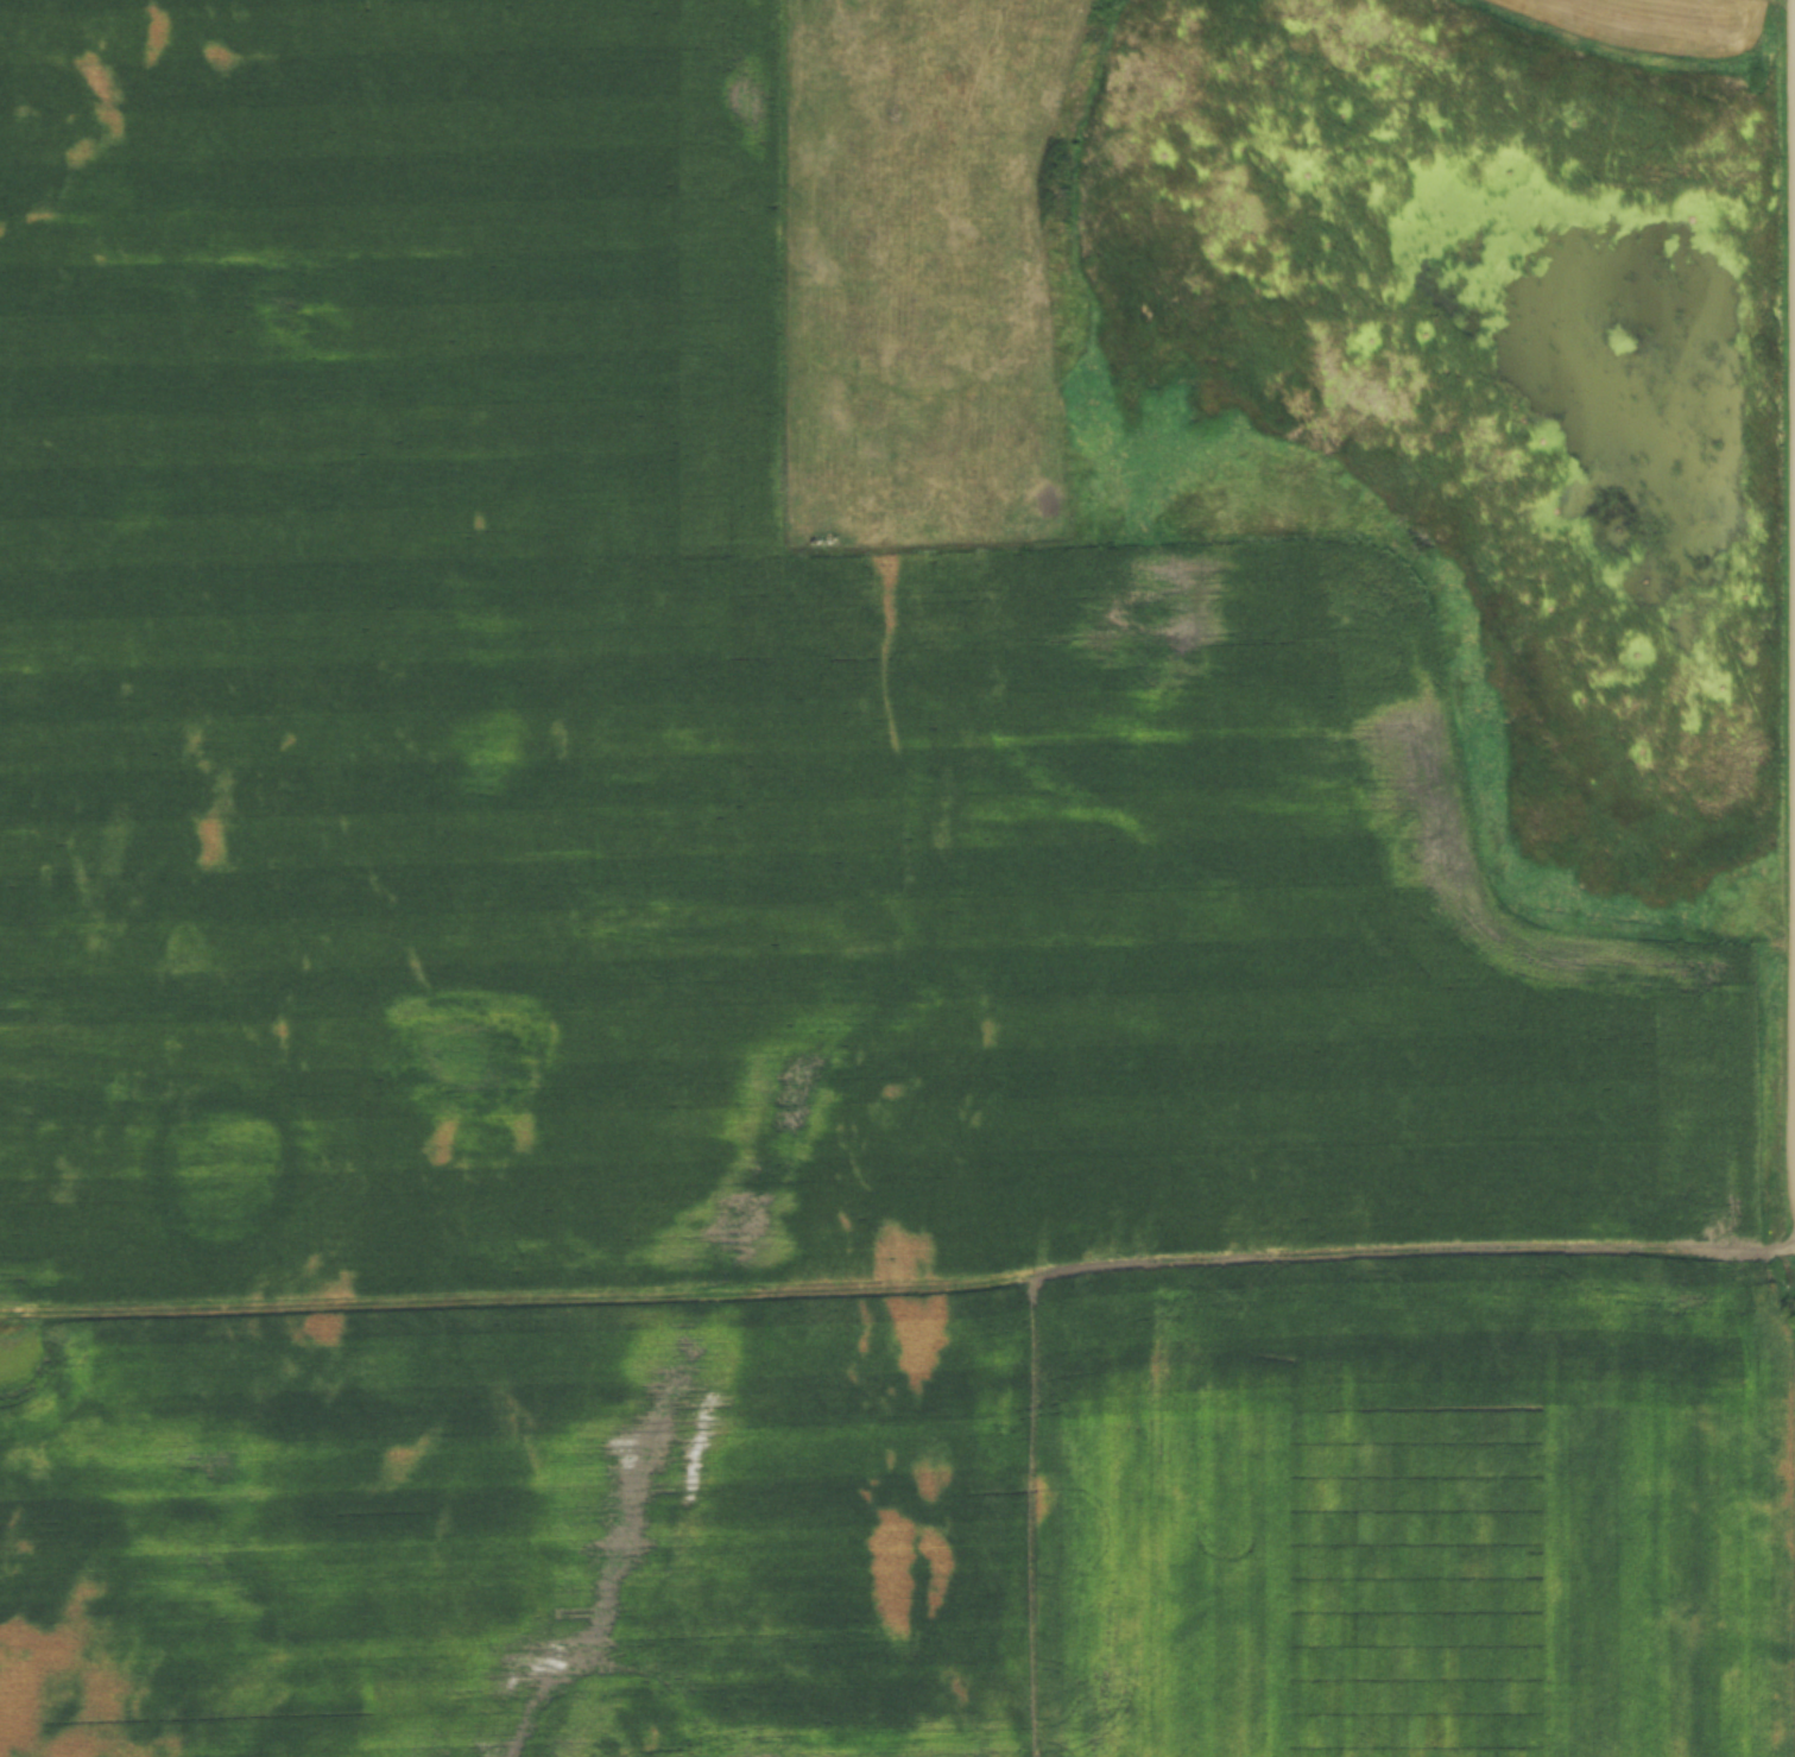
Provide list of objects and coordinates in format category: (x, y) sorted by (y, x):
road: (897, 1285)

